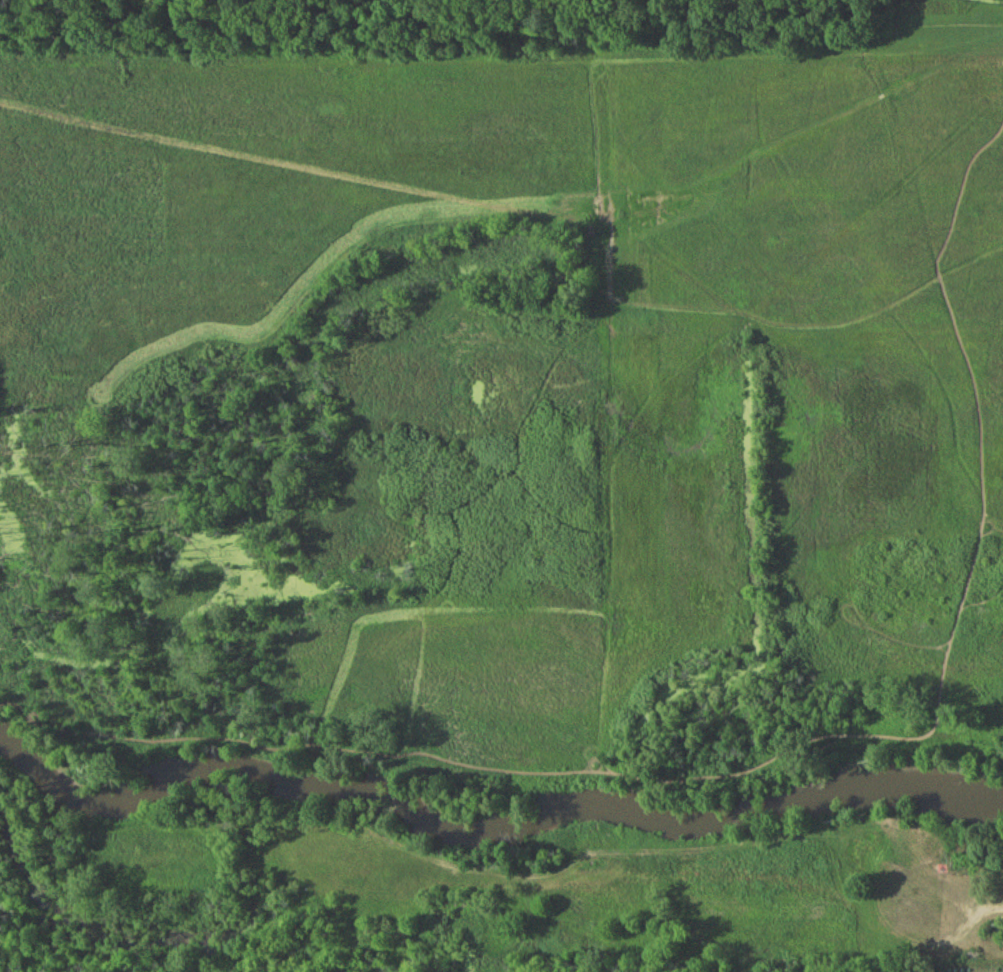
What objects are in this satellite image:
building: (929, 912)
road: (994, 913)

